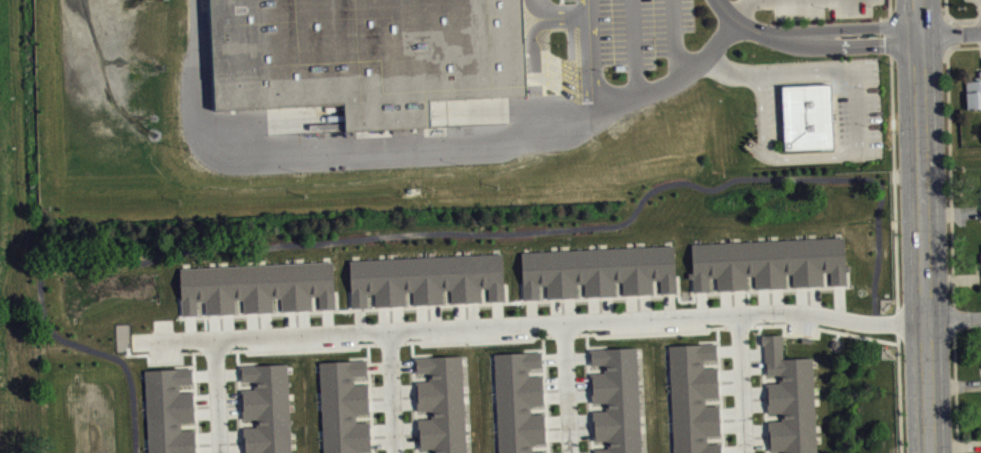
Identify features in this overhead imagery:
road: (536, 7)
road: (741, 8)
parking lot: (821, 8)
road: (563, 13)
road: (979, 17)
road: (952, 18)
parking lot: (624, 31)
road: (947, 32)
road: (951, 32)
road: (591, 34)
road: (676, 36)
road: (814, 37)
road: (635, 46)
road: (964, 46)
building: (366, 55)
road: (536, 73)
road: (594, 91)
building: (974, 91)
parking lot: (856, 108)
building: (808, 115)
road: (857, 121)
road: (414, 148)
road: (893, 167)
road: (950, 176)
building: (980, 199)
road: (927, 226)
road: (420, 232)
building: (768, 261)
building: (598, 269)
building: (426, 278)
building: (257, 286)
road: (954, 318)
road: (954, 319)
road: (534, 322)
road: (818, 327)
road: (742, 383)
road: (567, 387)
road: (392, 391)
road: (900, 393)
road: (955, 393)
road: (218, 396)
building: (694, 398)
building: (790, 398)
building: (617, 399)
building: (518, 401)
building: (441, 403)
building: (343, 406)
building: (266, 408)
building: (169, 410)

